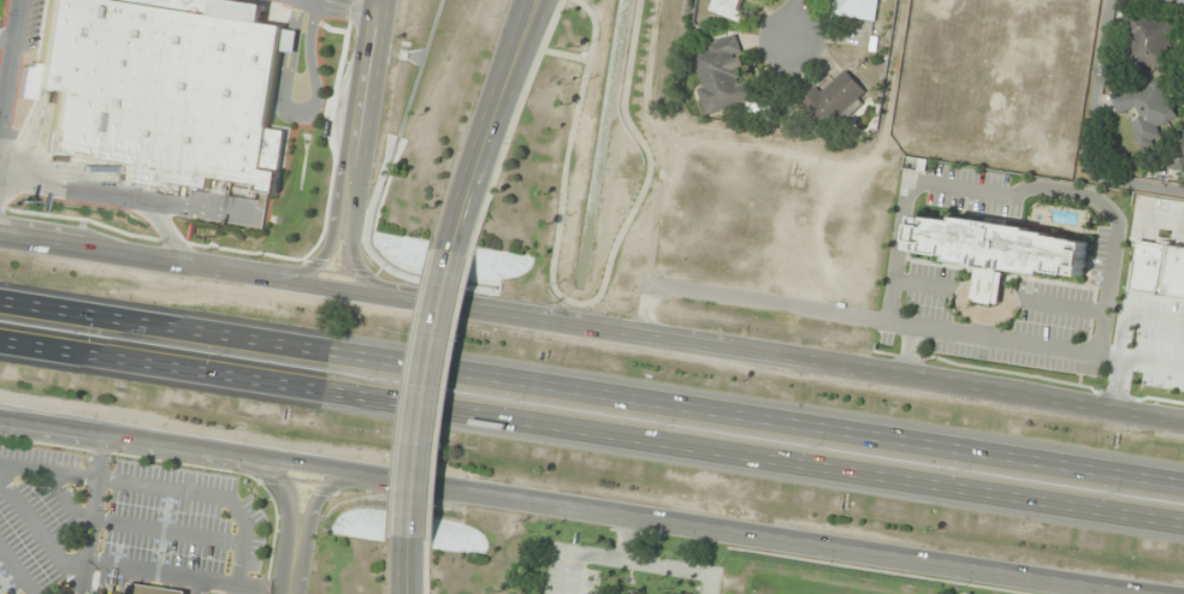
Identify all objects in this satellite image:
road: (347, 4)
building: (856, 8)
building: (728, 10)
road: (794, 18)
building: (1150, 43)
road: (10, 64)
building: (722, 77)
building: (164, 88)
building: (833, 100)
road: (360, 108)
building: (758, 111)
road: (295, 112)
building: (1147, 112)
road: (491, 124)
road: (514, 126)
building: (1180, 147)
road: (645, 149)
road: (564, 164)
road: (656, 167)
parking lot: (971, 191)
road: (109, 197)
road: (191, 209)
building: (999, 246)
road: (321, 254)
road: (351, 257)
road: (147, 260)
road: (918, 284)
building: (987, 286)
road: (1062, 308)
parking lot: (1028, 319)
road: (603, 329)
road: (1097, 333)
road: (908, 350)
road: (422, 392)
road: (592, 392)
road: (446, 397)
road: (1048, 397)
road: (592, 430)
road: (48, 470)
road: (427, 485)
road: (282, 499)
road: (314, 503)
building: (363, 524)
building: (125, 527)
road: (410, 564)
road: (120, 565)
road: (288, 570)
road: (988, 572)
road: (79, 577)
road: (195, 586)
road: (1118, 588)

